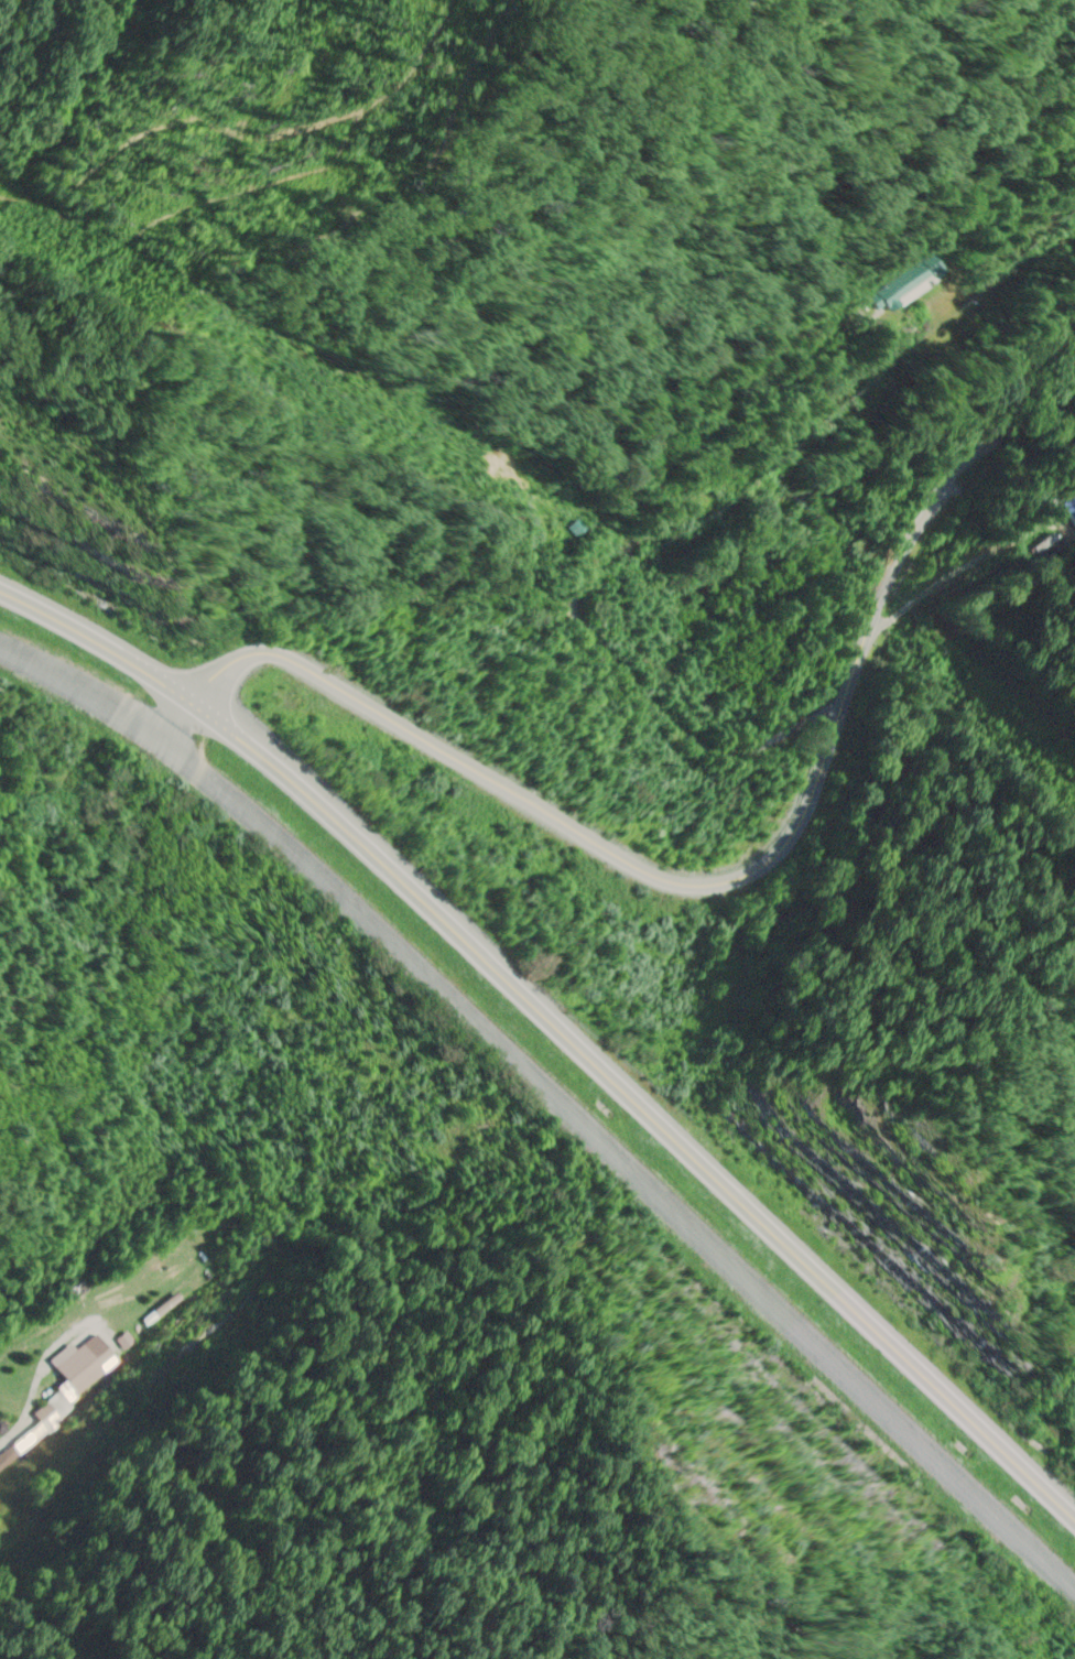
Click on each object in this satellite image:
road: (98, 647)
road: (745, 864)
road: (648, 1099)

